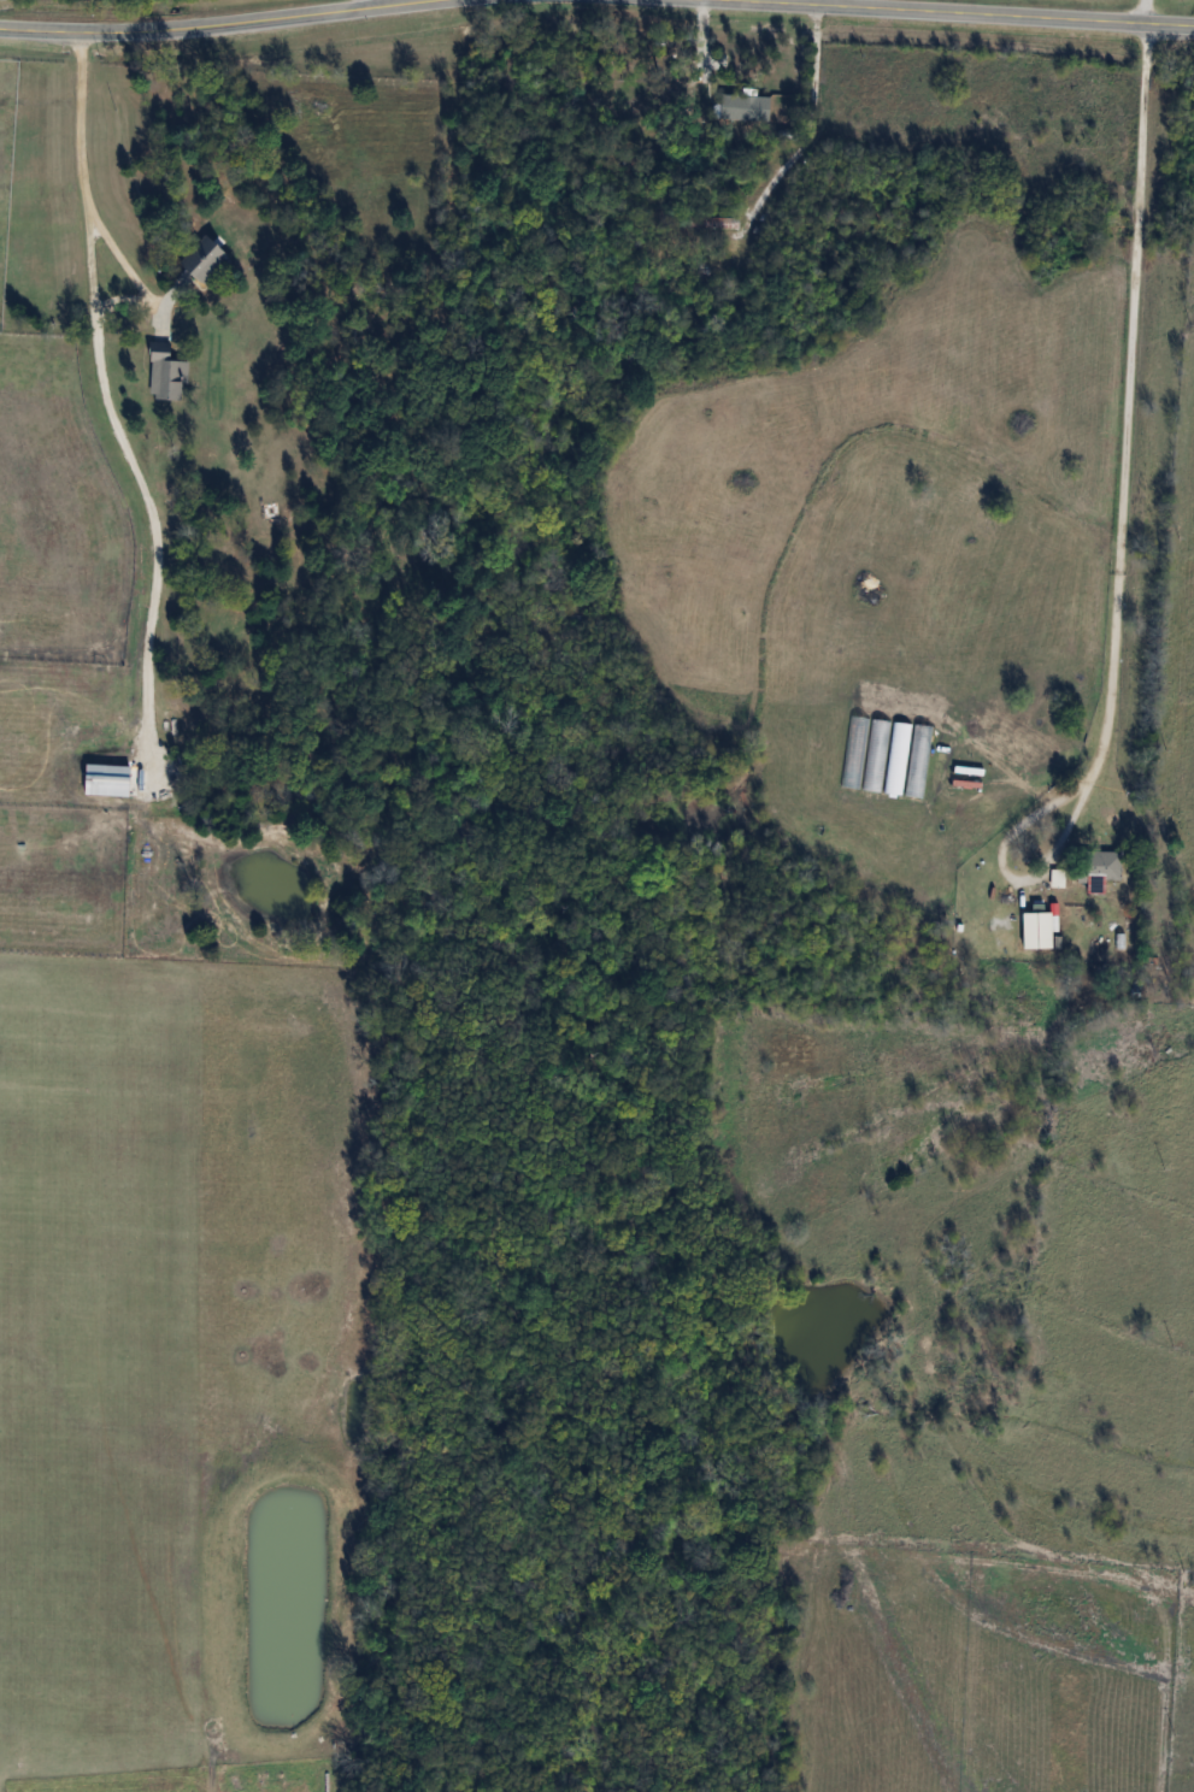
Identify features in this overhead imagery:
road: (367, 4)
road: (1145, 11)
road: (955, 12)
road: (212, 24)
road: (804, 113)
building: (720, 222)
building: (208, 260)
building: (169, 372)
road: (111, 402)
road: (1123, 440)
building: (1100, 865)
building: (1040, 930)

